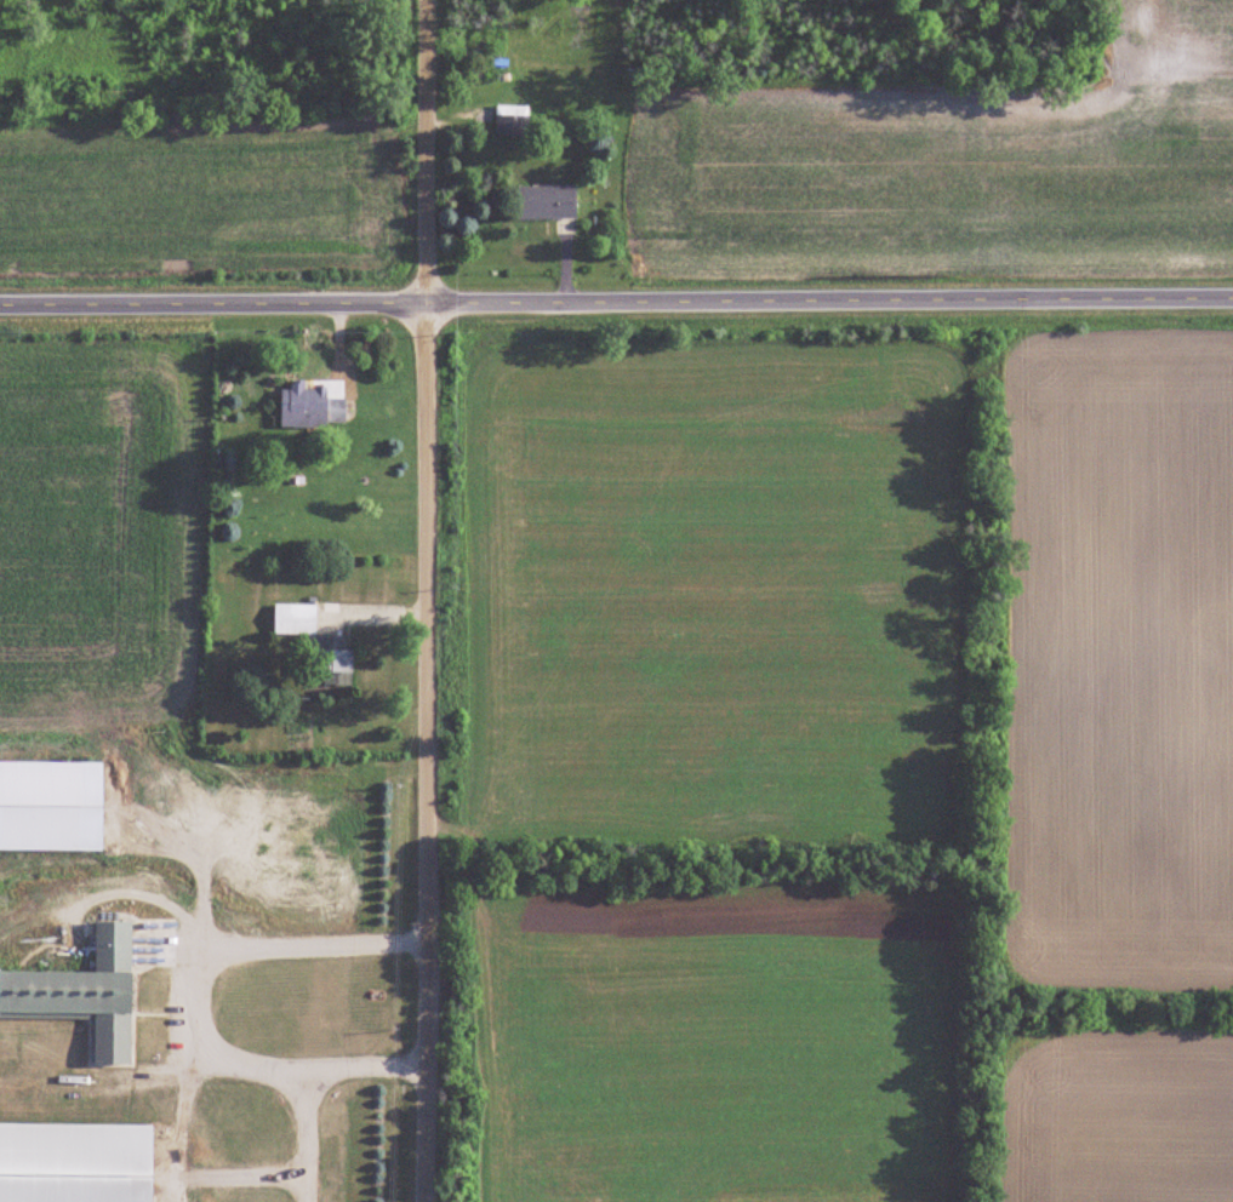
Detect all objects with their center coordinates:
building: (513, 120)
road: (415, 145)
building: (548, 202)
road: (616, 290)
building: (312, 405)
building: (318, 642)
road: (413, 746)
building: (84, 991)
road: (188, 1009)
road: (355, 1060)
road: (185, 1129)
building: (76, 1162)

